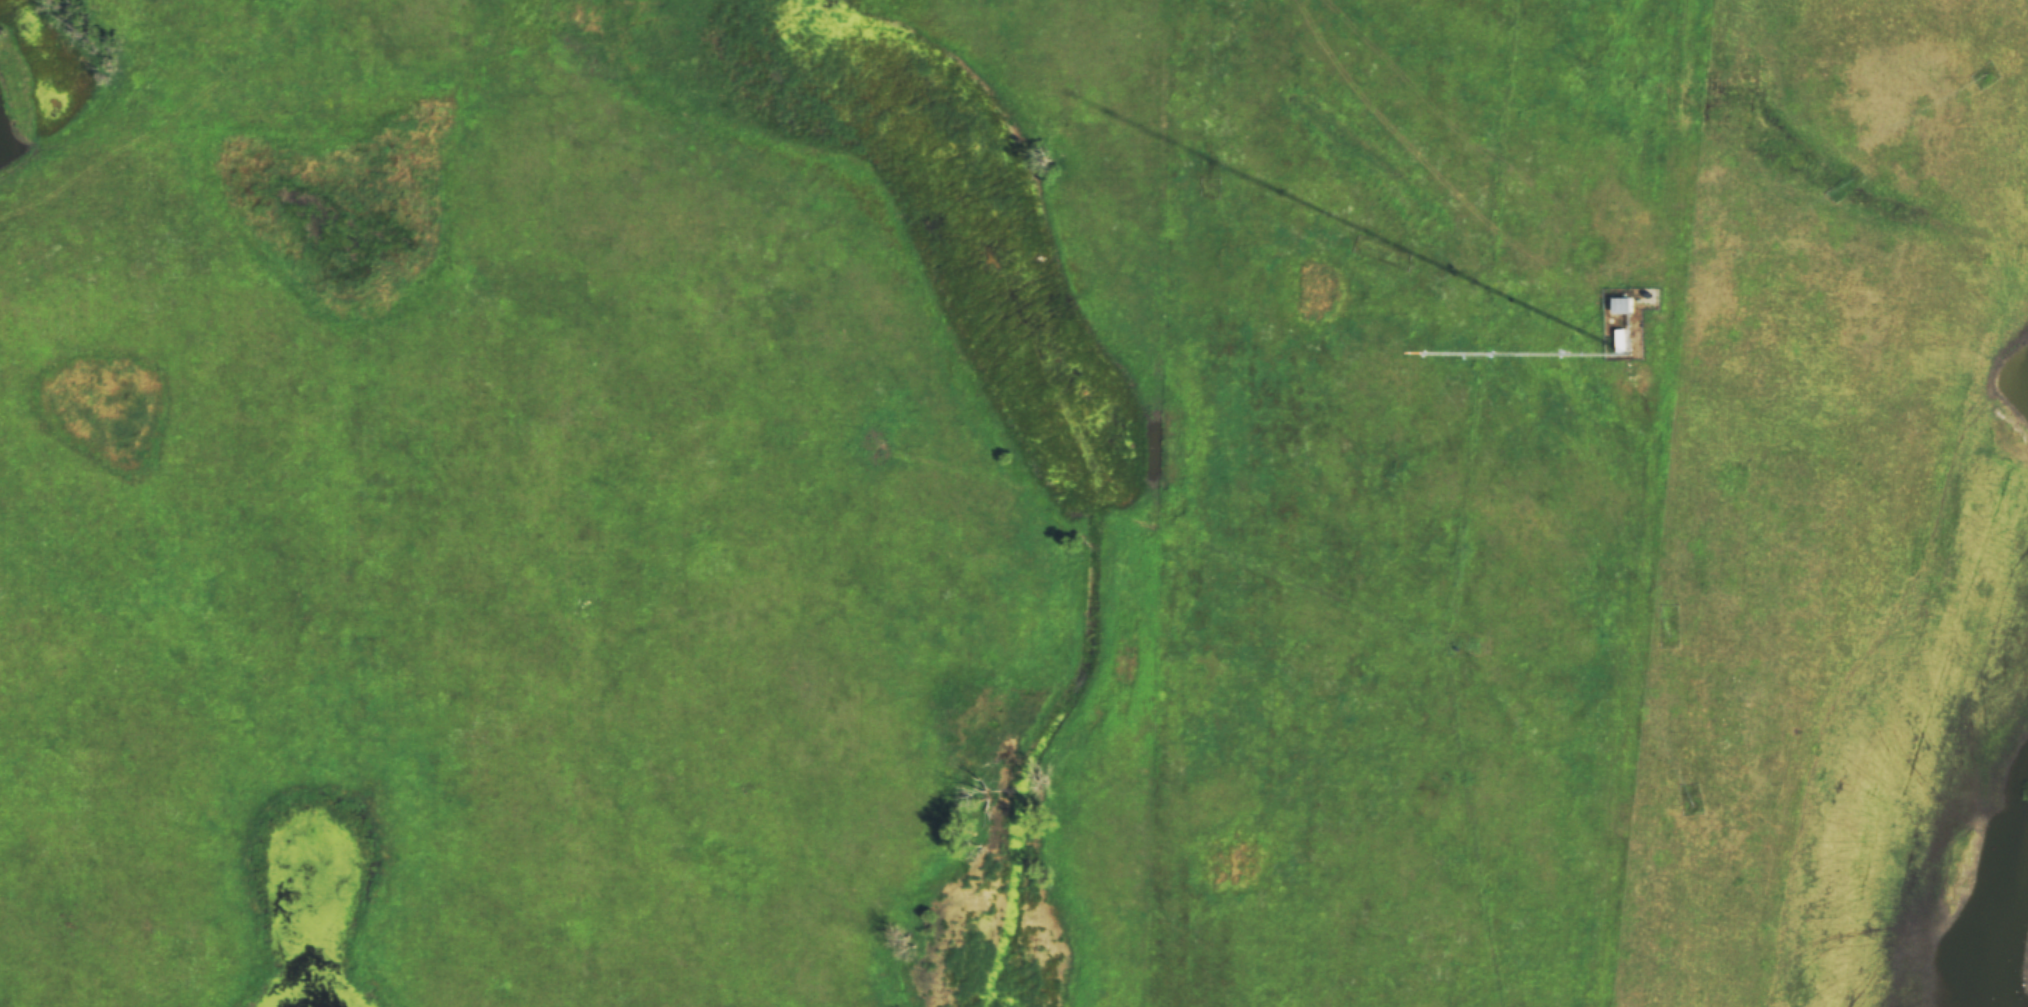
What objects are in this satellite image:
road: (1395, 148)
road: (1169, 184)
building: (1622, 304)

